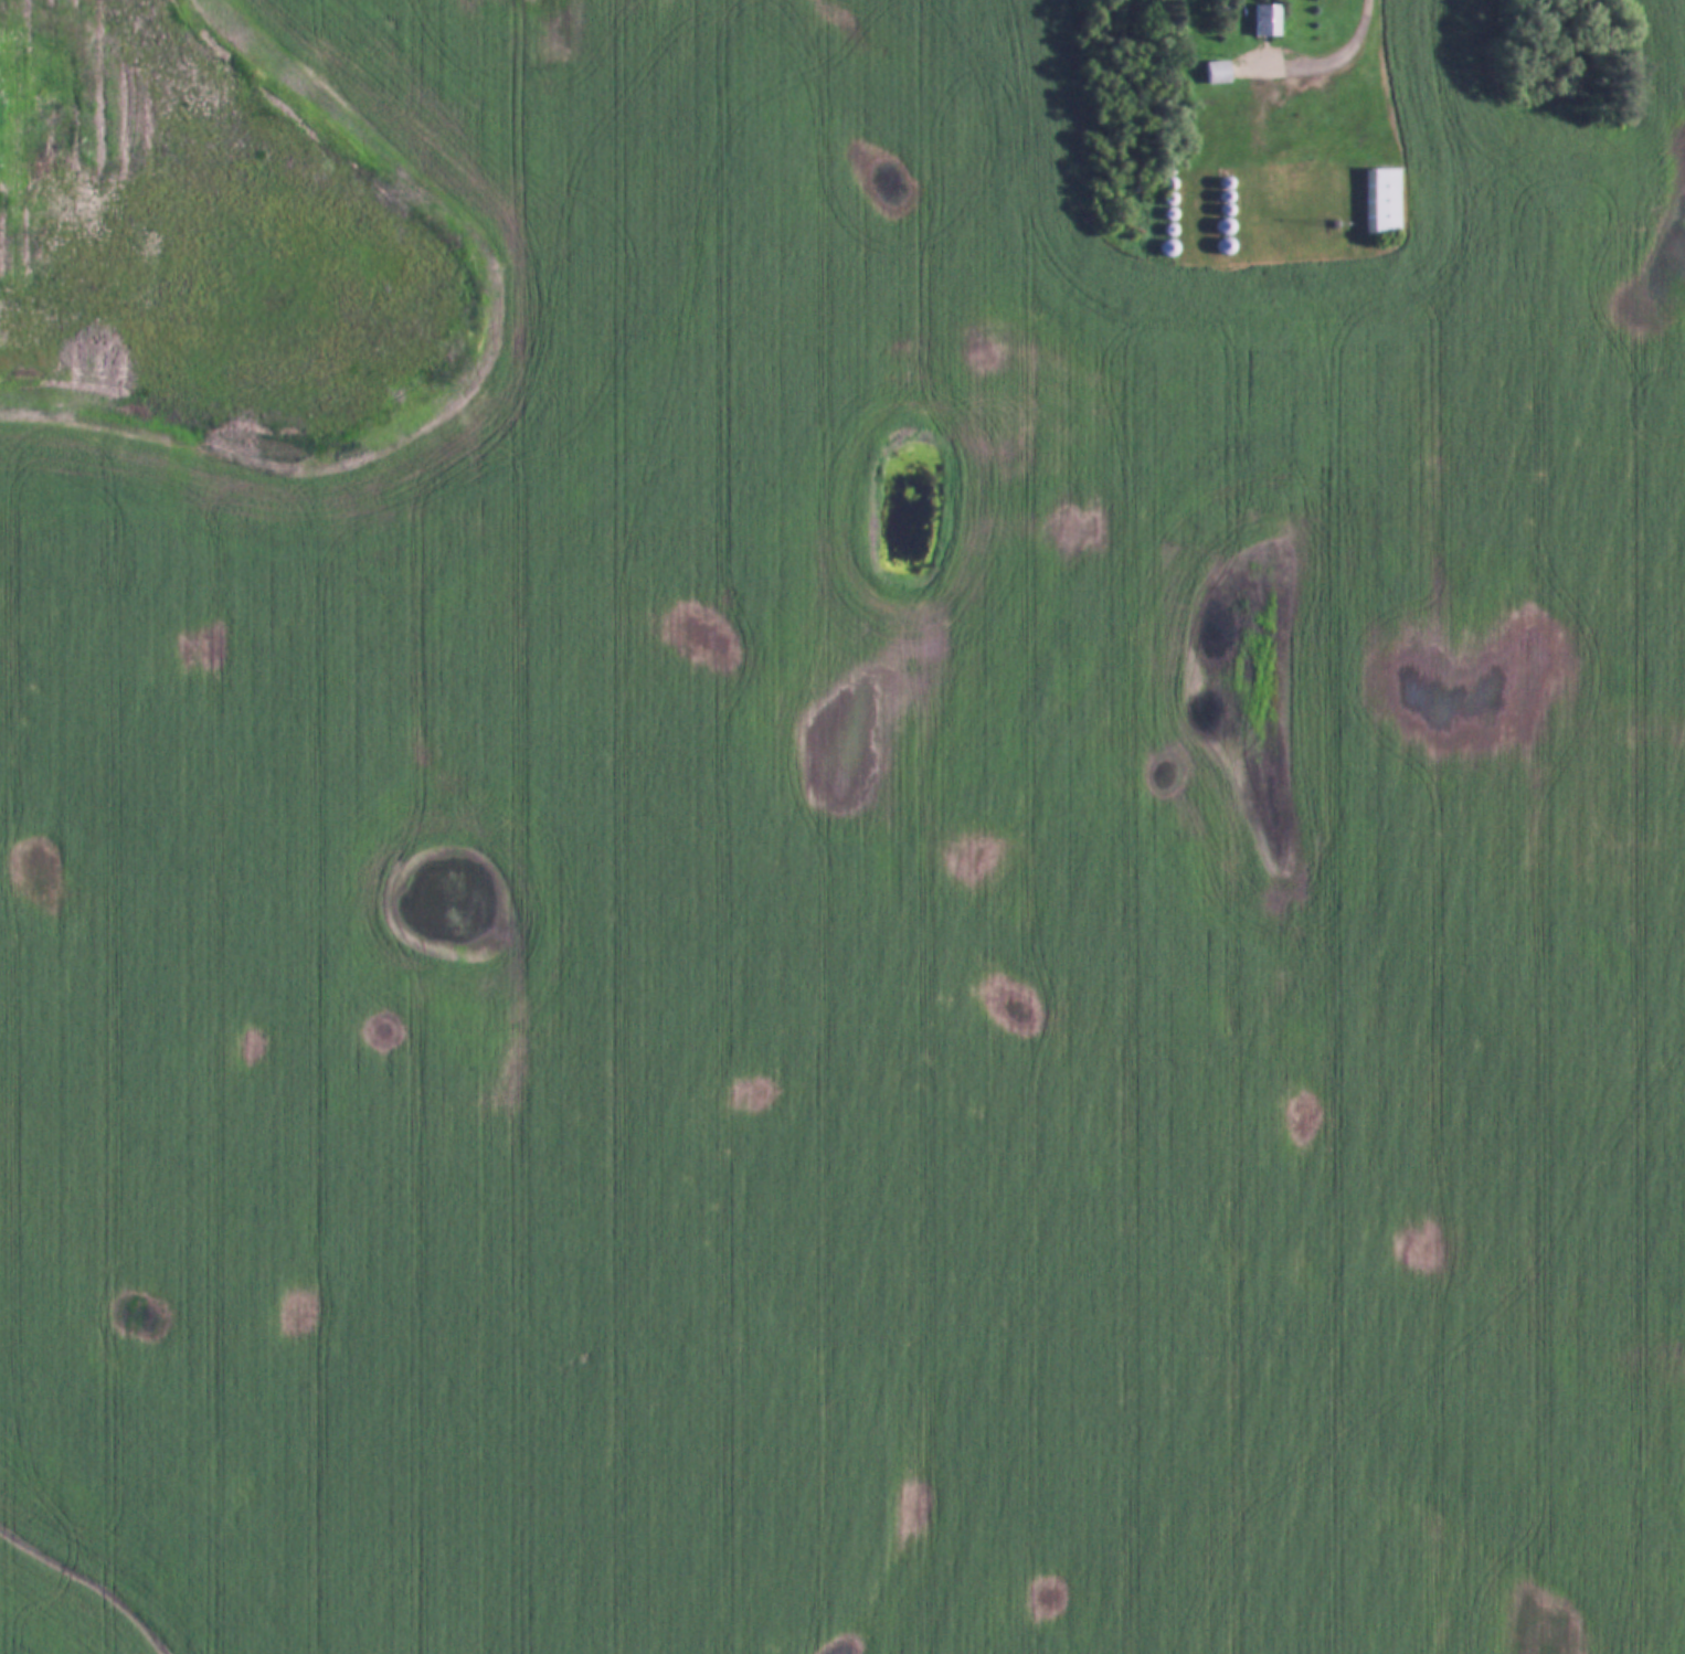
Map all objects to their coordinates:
building: (1264, 21)
road: (1326, 62)
building: (1215, 73)
building: (1382, 202)
building: (1165, 248)

